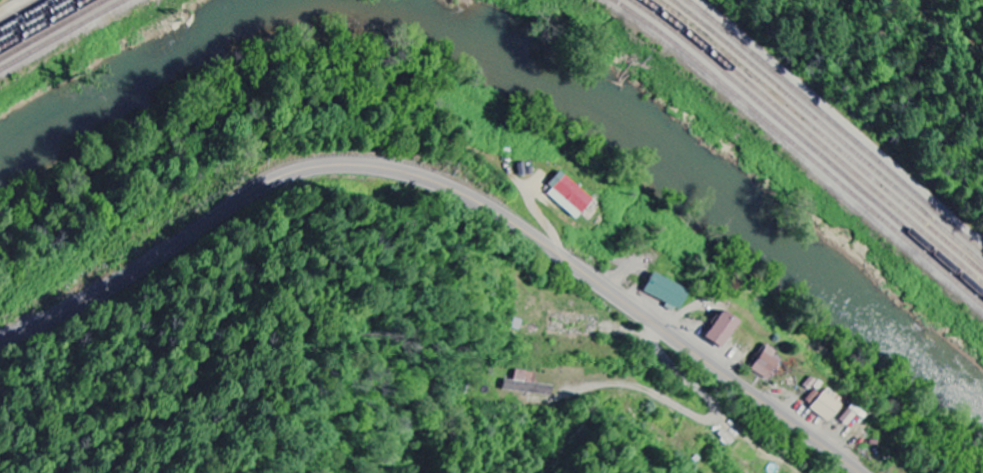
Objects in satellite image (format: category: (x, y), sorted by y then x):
railway: (55, 31)
railway: (64, 35)
river: (526, 56)
railway: (809, 140)
railway: (799, 147)
road: (449, 189)
building: (568, 194)
building: (667, 292)
building: (722, 329)
building: (766, 363)
building: (526, 385)
building: (823, 405)
building: (851, 416)

